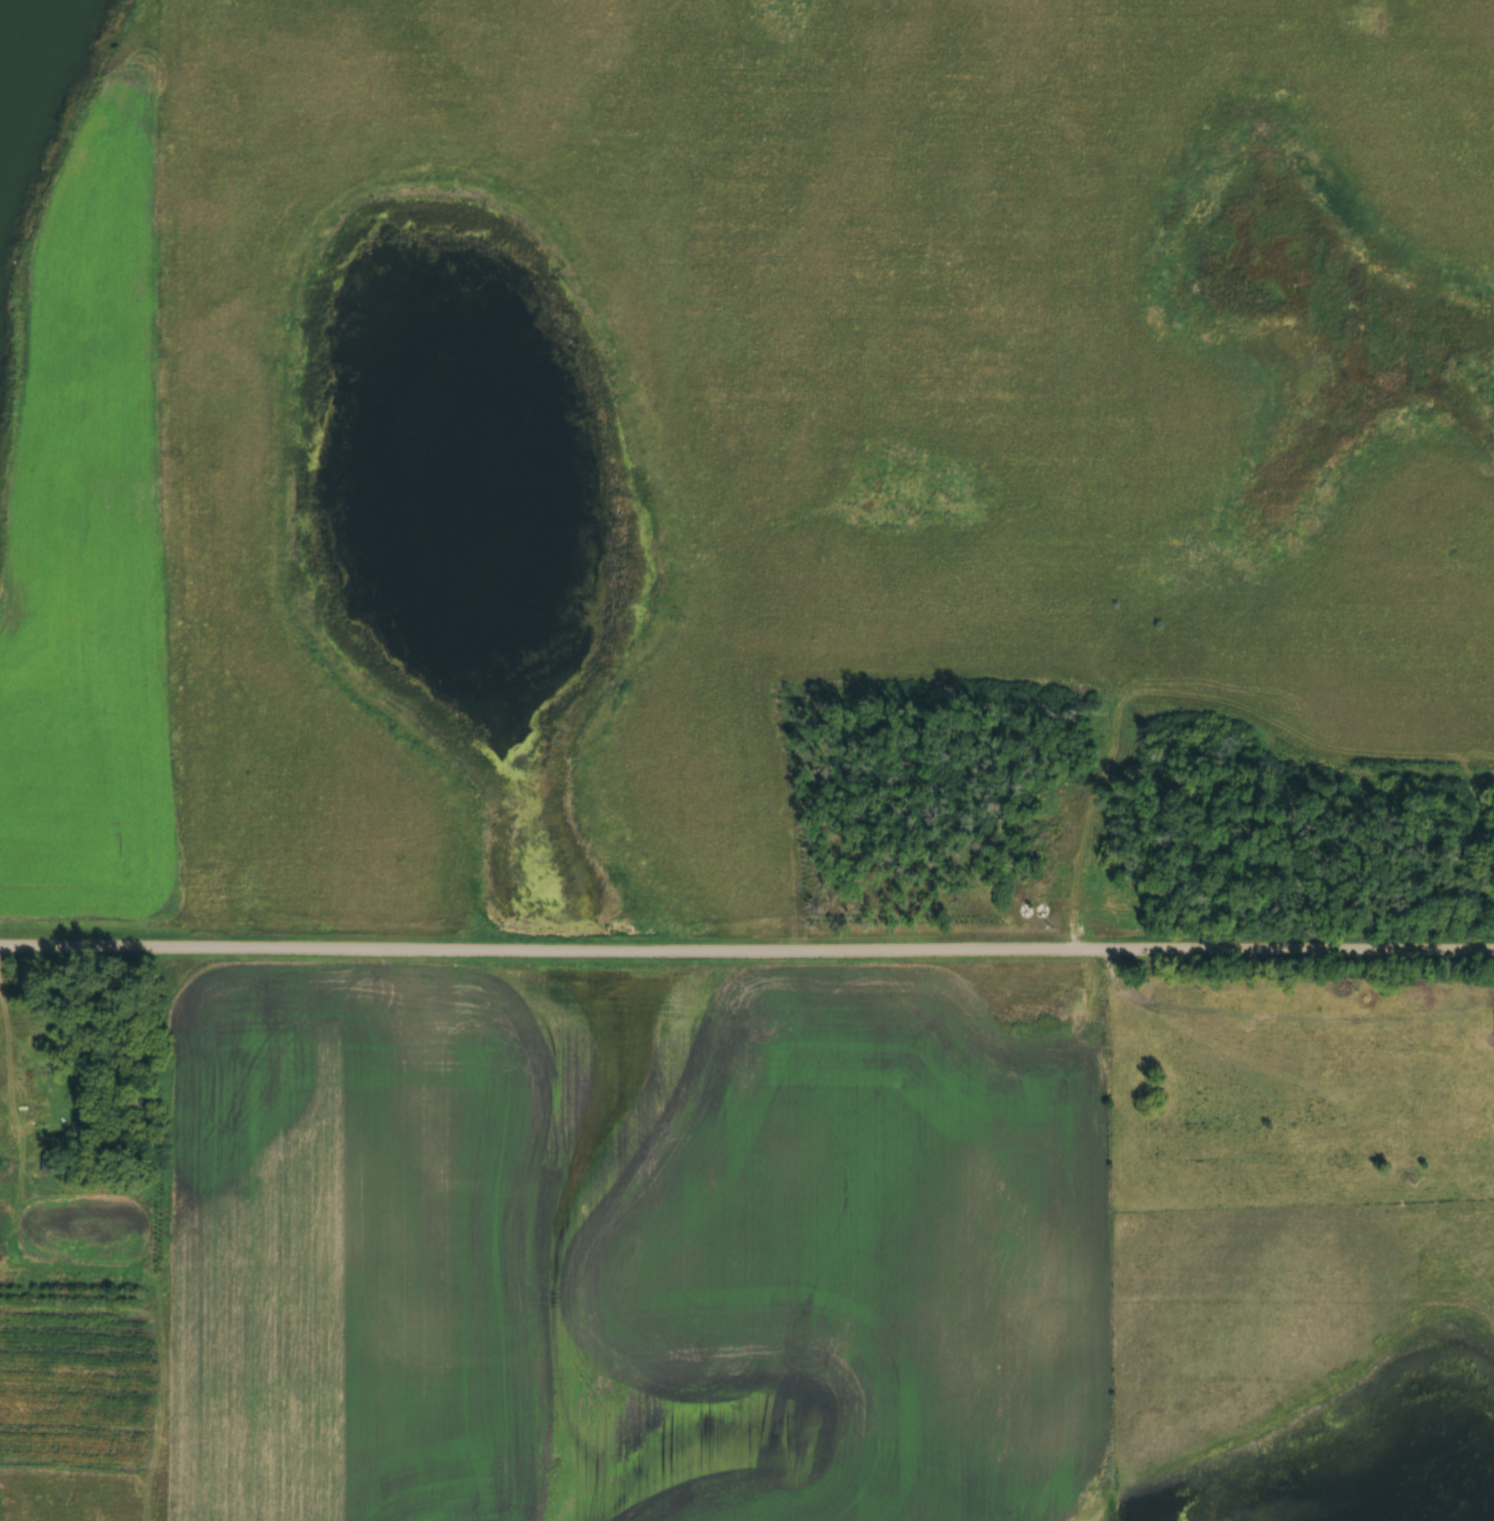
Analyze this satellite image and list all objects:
road: (747, 949)
building: (55, 1165)

